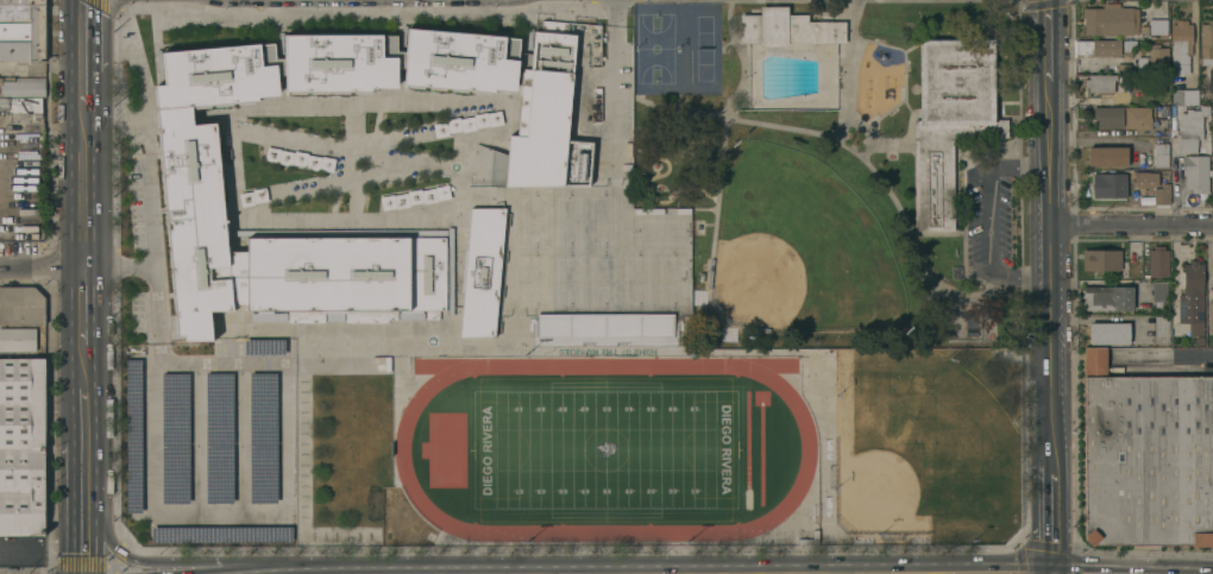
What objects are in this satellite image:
road: (616, 13)
road: (252, 18)
building: (1110, 21)
building: (1157, 27)
building: (788, 29)
building: (21, 30)
road: (81, 36)
building: (1206, 39)
building: (1180, 46)
building: (1098, 48)
building: (1155, 58)
building: (459, 61)
building: (339, 64)
road: (1049, 67)
building: (218, 76)
building: (1211, 80)
building: (1099, 83)
building: (21, 87)
road: (82, 90)
building: (1183, 97)
road: (615, 100)
building: (23, 106)
building: (542, 112)
building: (1107, 116)
building: (1136, 118)
building: (949, 120)
building: (465, 124)
building: (1189, 130)
road: (1104, 132)
building: (1212, 137)
building: (1159, 156)
building: (1106, 158)
building: (485, 166)
park: (838, 169)
road: (1175, 170)
building: (1194, 172)
building: (1212, 172)
building: (1144, 179)
road: (82, 187)
building: (1107, 187)
building: (1161, 195)
building: (413, 197)
building: (195, 221)
road: (991, 225)
road: (1127, 226)
building: (1100, 259)
building: (1157, 263)
road: (42, 265)
road: (149, 270)
building: (1212, 270)
building: (338, 272)
building: (482, 272)
building: (627, 282)
building: (1158, 295)
building: (1106, 298)
building: (1190, 298)
road: (1045, 301)
building: (20, 304)
road: (83, 304)
building: (1209, 316)
park: (955, 322)
building: (1161, 329)
building: (1108, 334)
building: (17, 340)
road: (1186, 360)
road: (83, 366)
road: (83, 415)
building: (134, 436)
building: (175, 436)
building: (219, 437)
building: (263, 437)
building: (20, 446)
track: (401, 449)
park: (604, 450)
building: (1146, 456)
road: (83, 484)
road: (1051, 521)
building: (221, 534)
road: (17, 545)
road: (82, 549)
road: (162, 563)
road: (304, 568)

